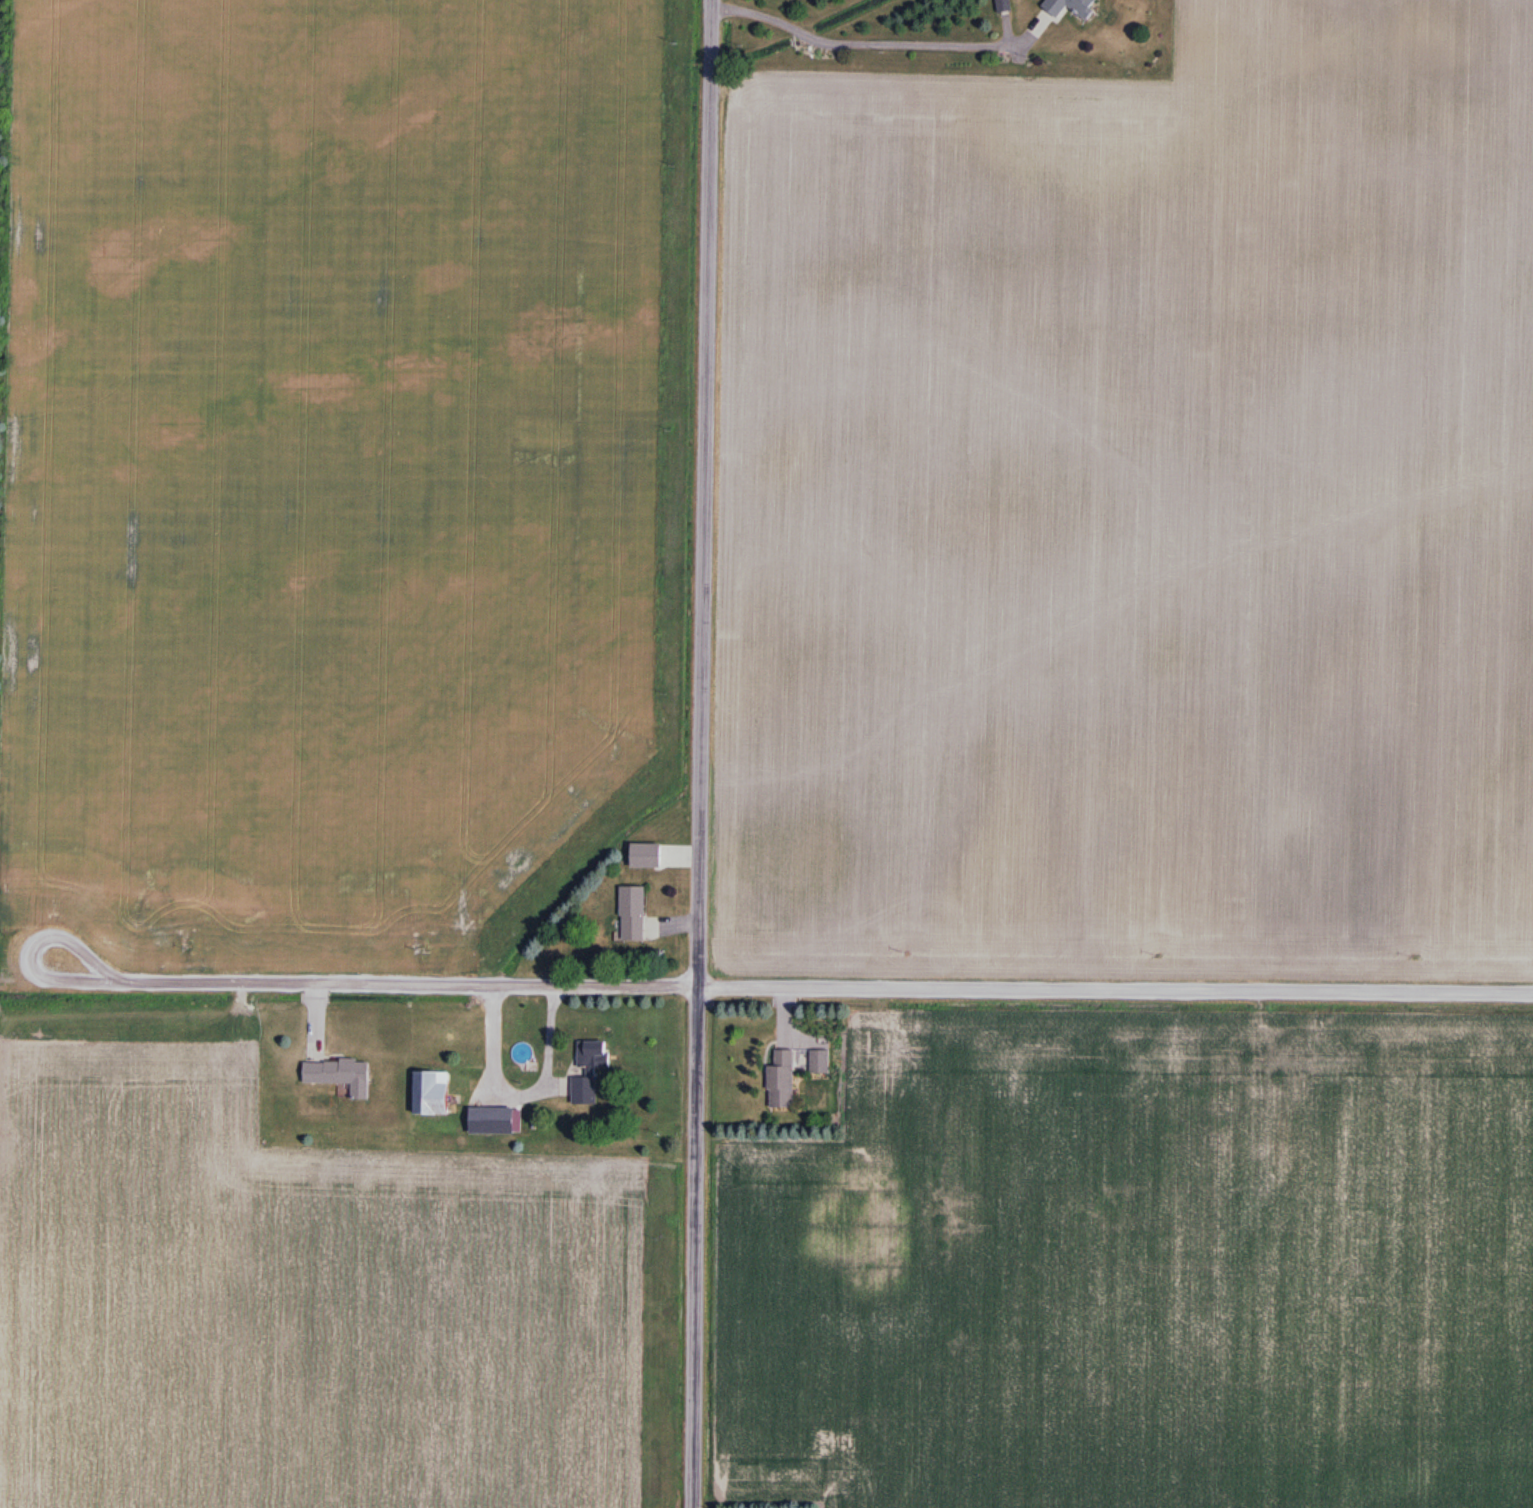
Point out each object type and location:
building: (1070, 7)
road: (862, 36)
road: (697, 753)
building: (645, 857)
building: (632, 915)
road: (792, 986)
building: (589, 1072)
building: (792, 1075)
building: (340, 1076)
building: (430, 1095)
building: (491, 1122)

